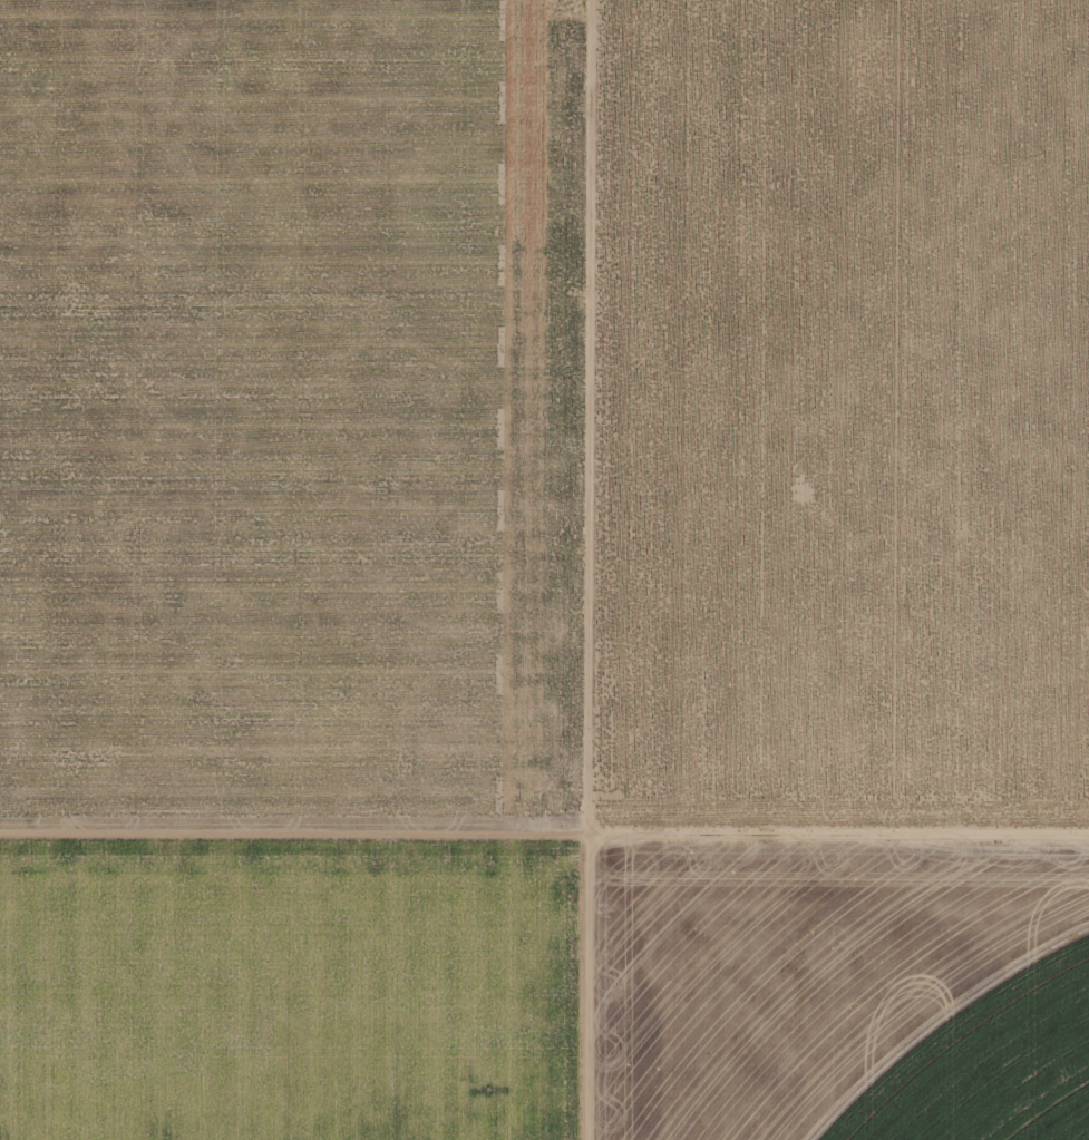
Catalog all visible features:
road: (712, 828)

